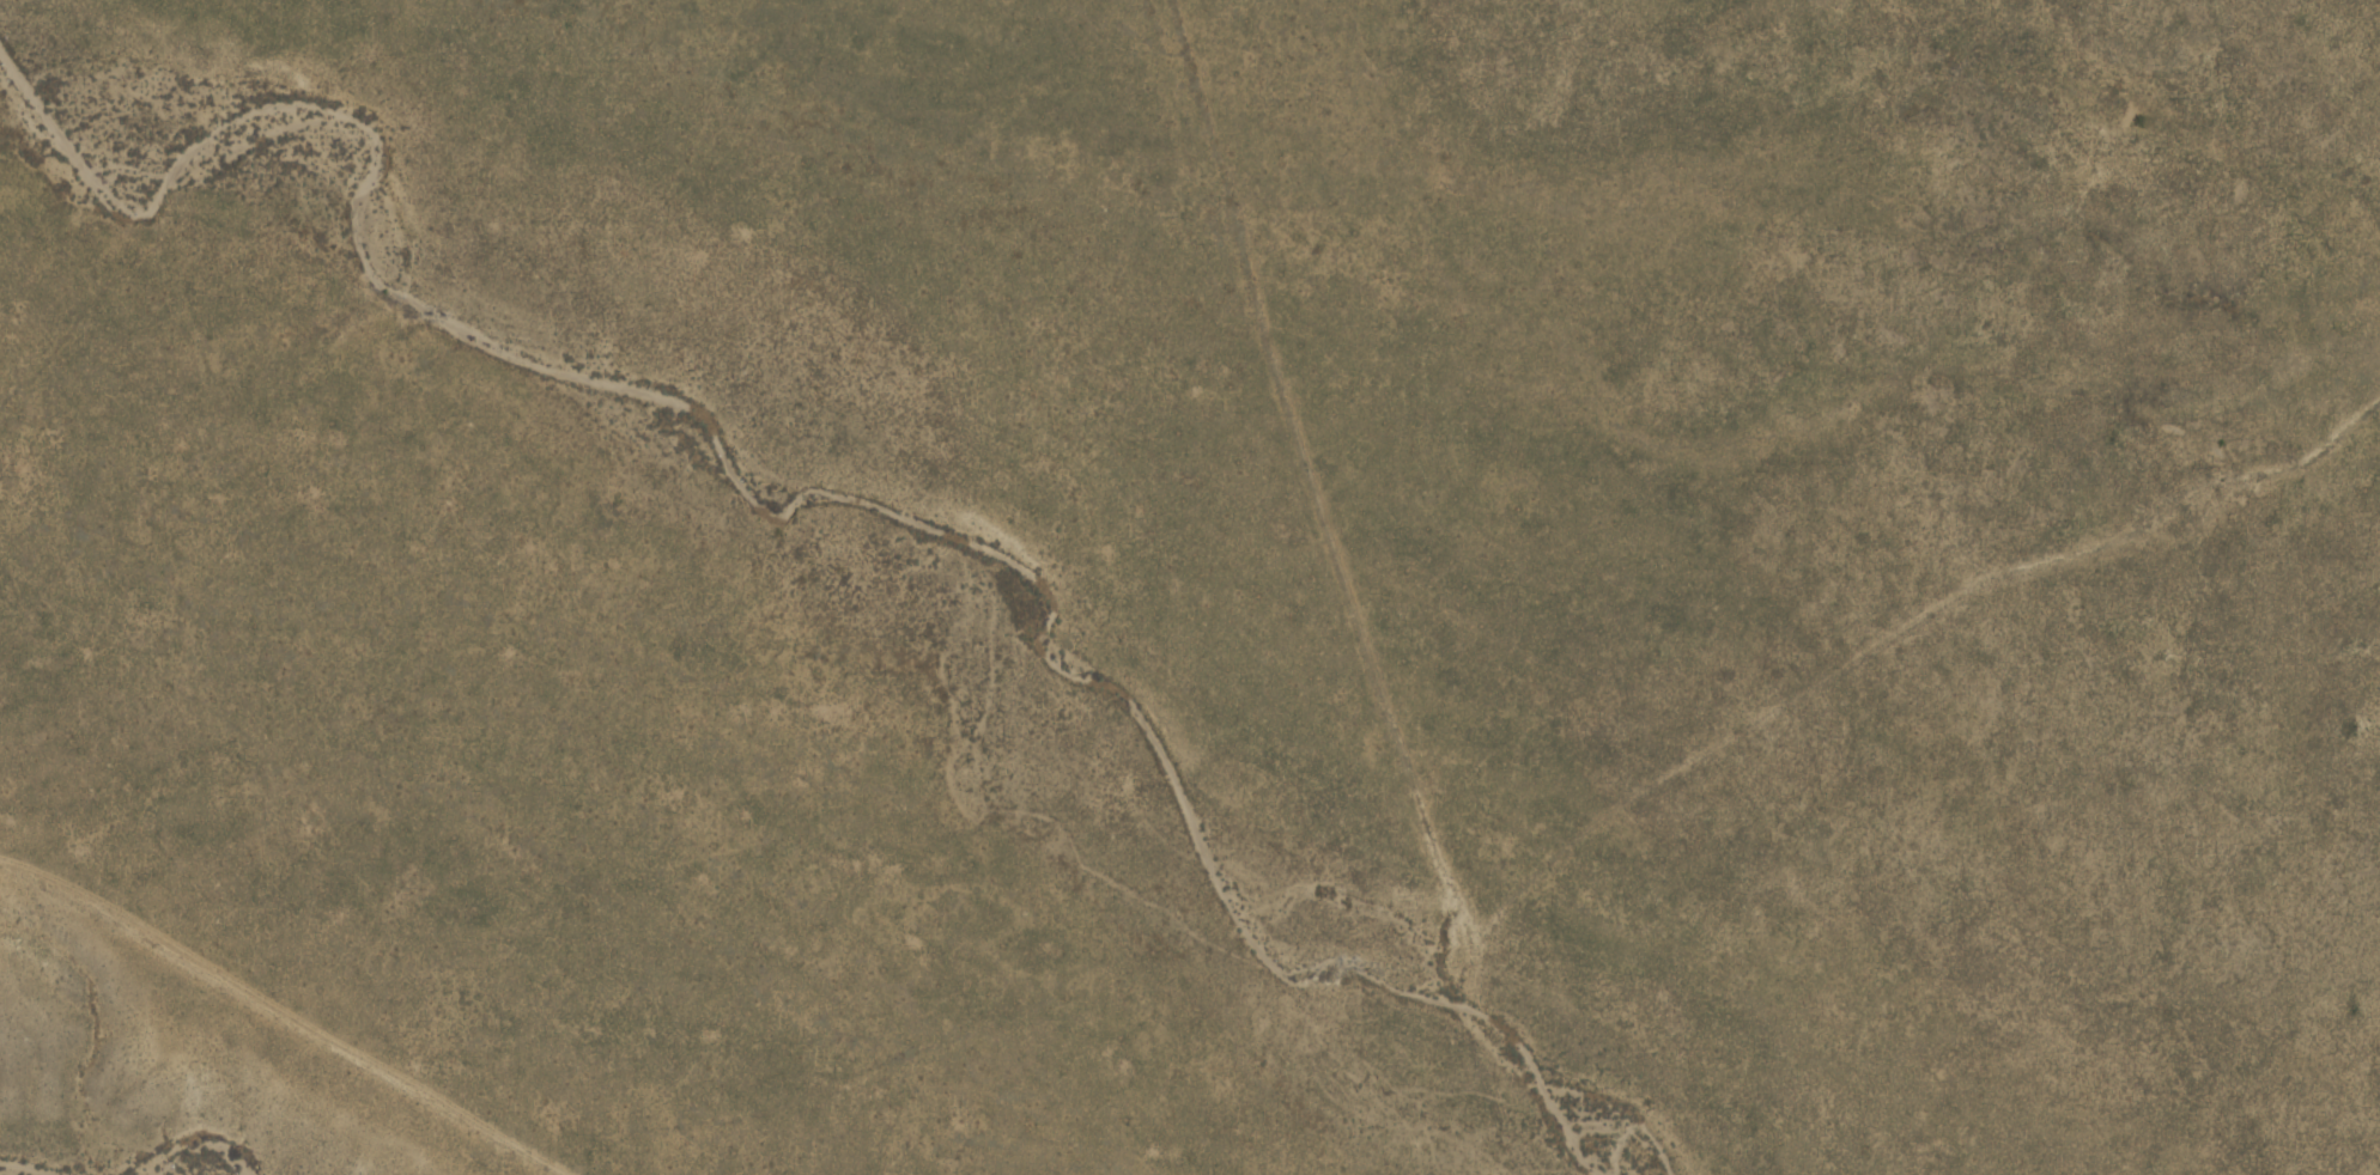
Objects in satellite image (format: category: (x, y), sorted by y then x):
road: (283, 1015)

